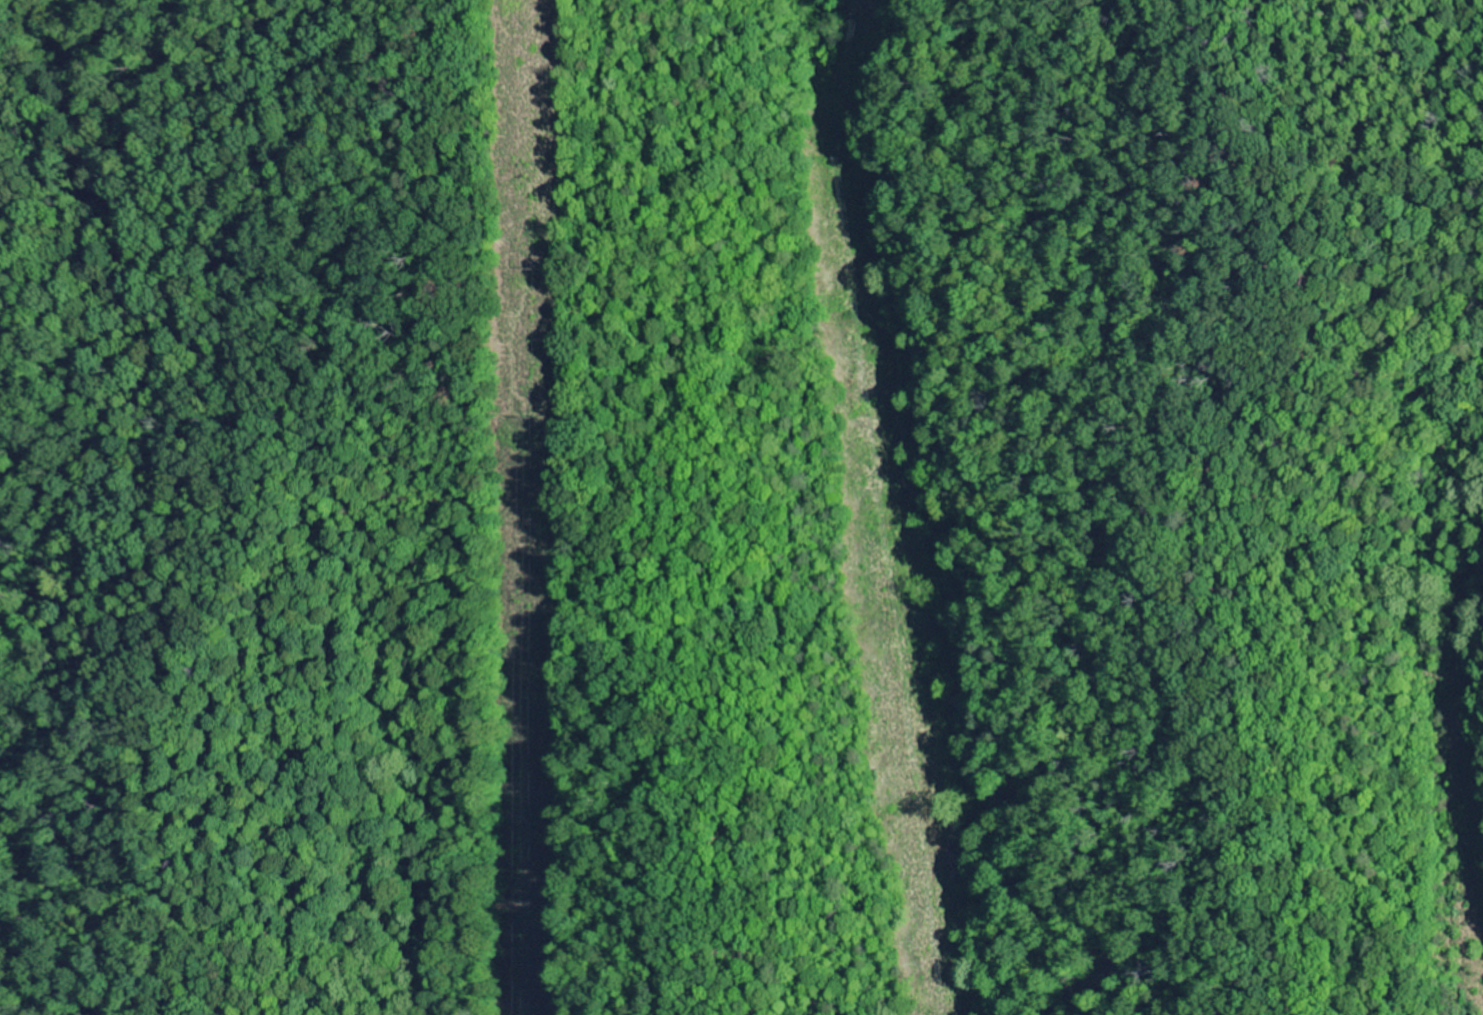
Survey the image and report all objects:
power tower: (523, 267)
road: (985, 855)
road: (1031, 909)

